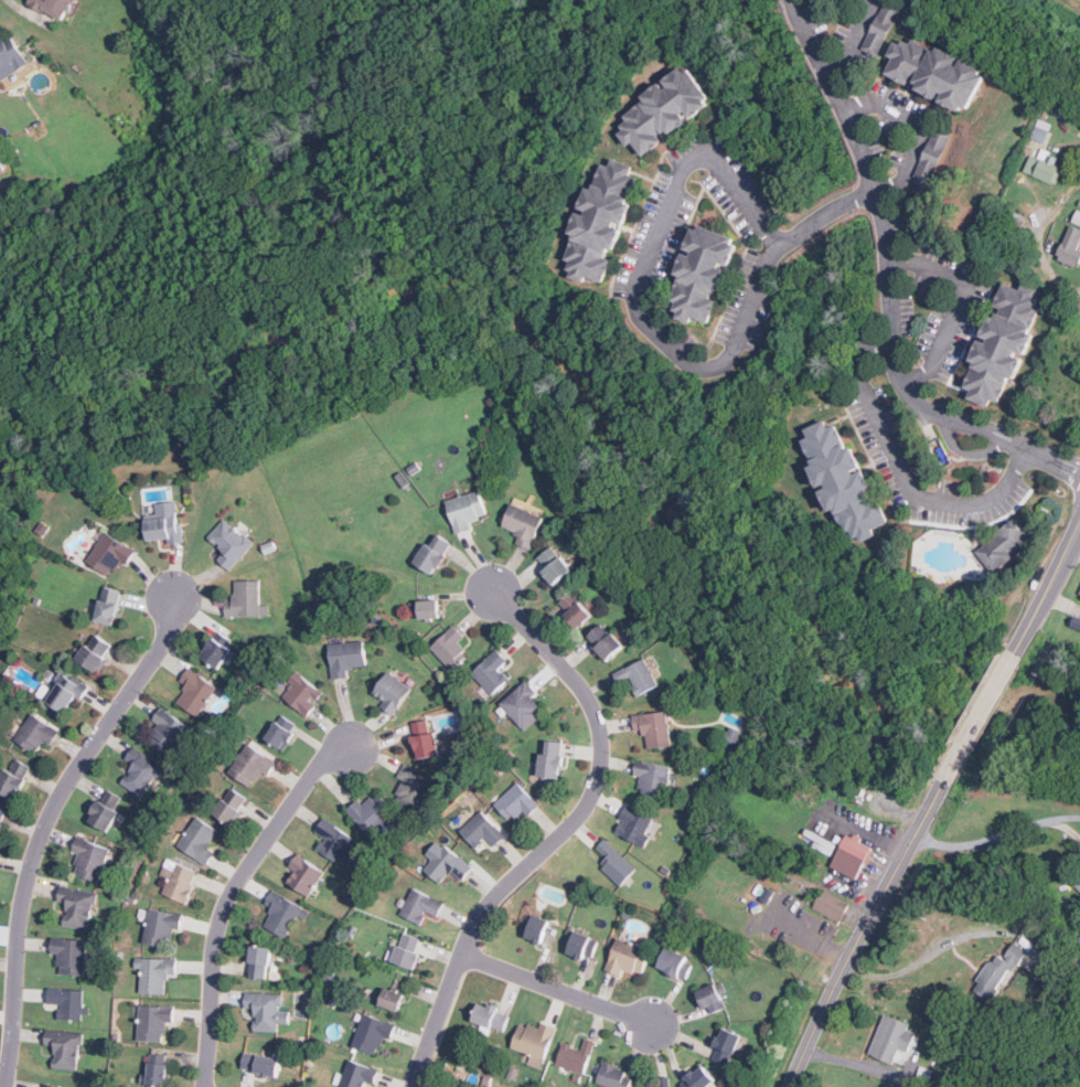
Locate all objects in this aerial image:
building: (53, 7)
building: (880, 28)
road: (849, 39)
building: (10, 60)
building: (934, 72)
building: (663, 109)
road: (917, 122)
building: (931, 156)
building: (1, 166)
building: (1042, 167)
building: (1076, 217)
building: (600, 222)
building: (1013, 223)
building: (1070, 246)
road: (1044, 262)
building: (702, 273)
road: (886, 287)
road: (954, 305)
road: (651, 331)
building: (1002, 343)
road: (900, 471)
building: (842, 480)
building: (464, 510)
building: (523, 521)
building: (163, 523)
building: (1001, 541)
building: (228, 543)
building: (109, 554)
building: (432, 554)
building: (553, 564)
building: (1079, 594)
building: (246, 599)
building: (106, 606)
building: (573, 607)
building: (424, 608)
building: (603, 641)
building: (449, 648)
building: (217, 649)
building: (94, 651)
building: (345, 658)
building: (491, 672)
building: (638, 675)
building: (64, 691)
building: (194, 691)
building: (391, 692)
building: (301, 693)
building: (522, 705)
building: (652, 727)
building: (167, 731)
building: (35, 732)
building: (280, 732)
building: (425, 740)
building: (550, 759)
building: (250, 765)
building: (139, 770)
building: (12, 778)
building: (652, 778)
building: (414, 786)
building: (515, 802)
road: (931, 802)
building: (231, 806)
building: (370, 812)
building: (101, 816)
building: (2, 817)
road: (44, 825)
building: (635, 825)
building: (481, 830)
road: (559, 835)
road: (996, 835)
building: (199, 840)
building: (334, 841)
building: (851, 855)
building: (88, 859)
building: (445, 863)
building: (614, 863)
building: (303, 874)
building: (178, 880)
building: (1078, 886)
road: (228, 896)
building: (419, 905)
building: (830, 905)
building: (76, 906)
building: (280, 913)
building: (159, 926)
building: (537, 928)
building: (581, 945)
building: (407, 950)
building: (69, 955)
building: (625, 957)
building: (258, 961)
road: (922, 961)
building: (675, 963)
building: (1070, 963)
building: (1049, 968)
building: (154, 972)
building: (999, 973)
road: (556, 990)
building: (712, 997)
building: (391, 999)
building: (67, 1001)
building: (266, 1010)
building: (489, 1015)
building: (153, 1021)
building: (372, 1032)
building: (533, 1041)
building: (891, 1042)
building: (725, 1046)
building: (64, 1048)
building: (574, 1056)
building: (259, 1064)
road: (856, 1064)
building: (154, 1070)
building: (357, 1075)
building: (612, 1076)
building: (926, 1076)
building: (697, 1078)
building: (51, 1085)
building: (916, 1086)

